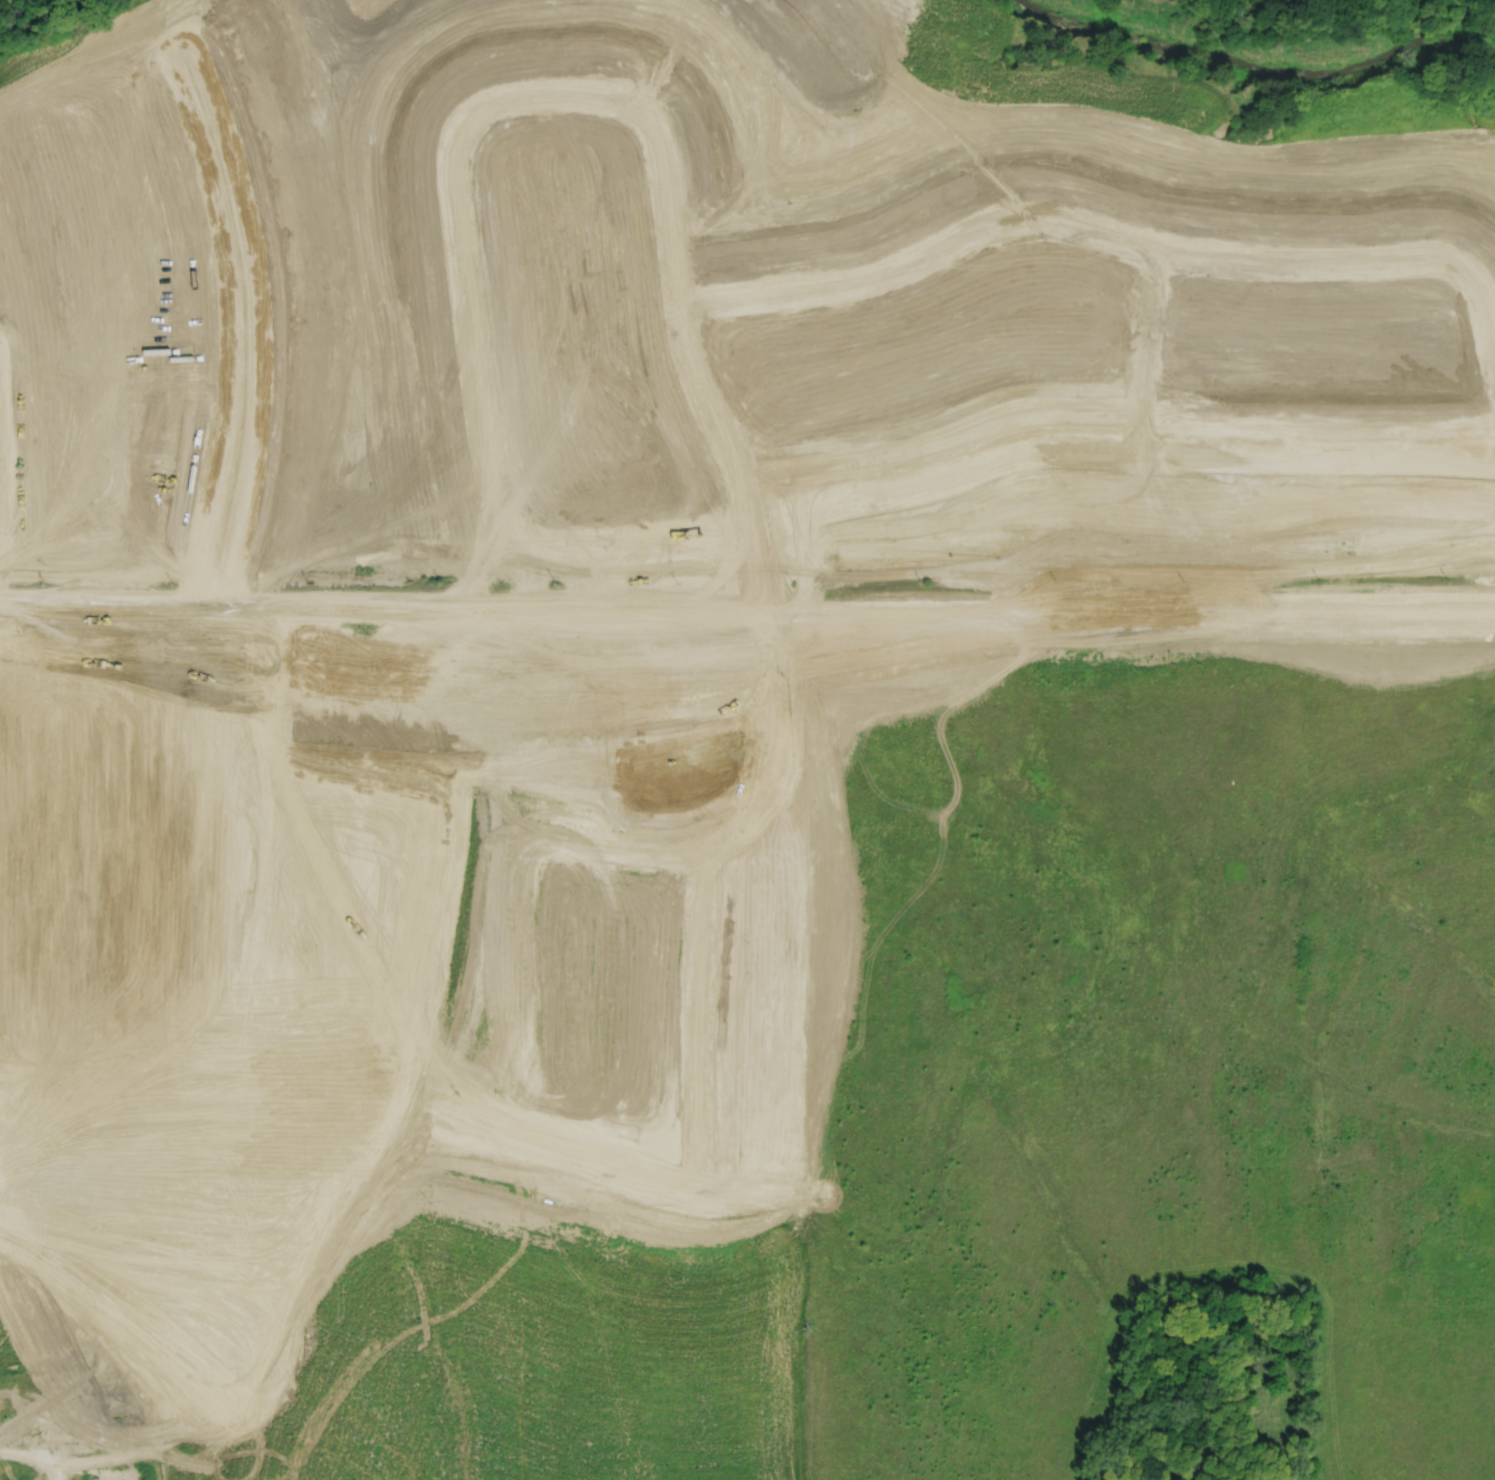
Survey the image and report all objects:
building: (146, 1360)
building: (46, 1429)
building: (90, 1432)
building: (121, 1434)
building: (108, 1473)

